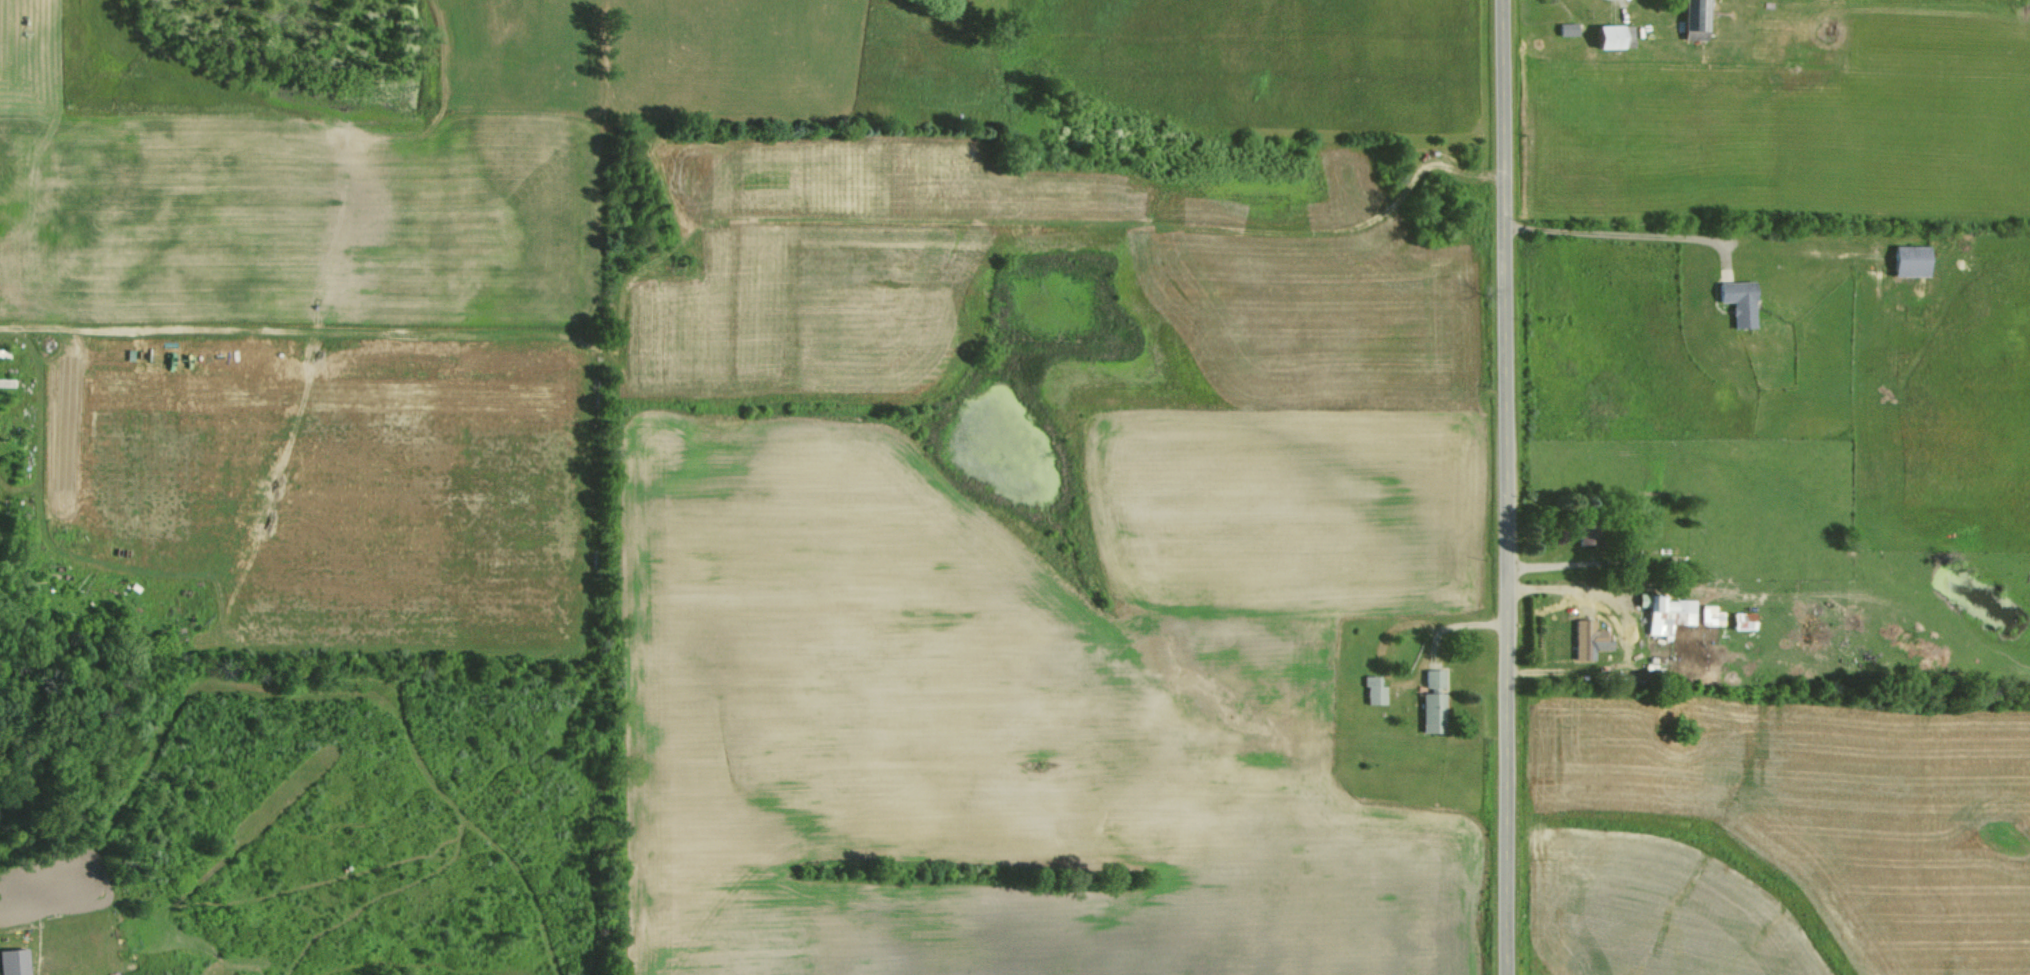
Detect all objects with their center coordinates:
building: (1694, 19)
building: (1566, 28)
building: (1611, 35)
road: (1617, 231)
building: (1906, 260)
building: (1732, 301)
road: (1509, 487)
road: (1568, 561)
road: (1606, 585)
building: (1706, 615)
building: (1739, 620)
building: (1583, 639)
building: (1430, 678)
building: (1370, 690)
building: (1428, 711)
building: (11, 961)

